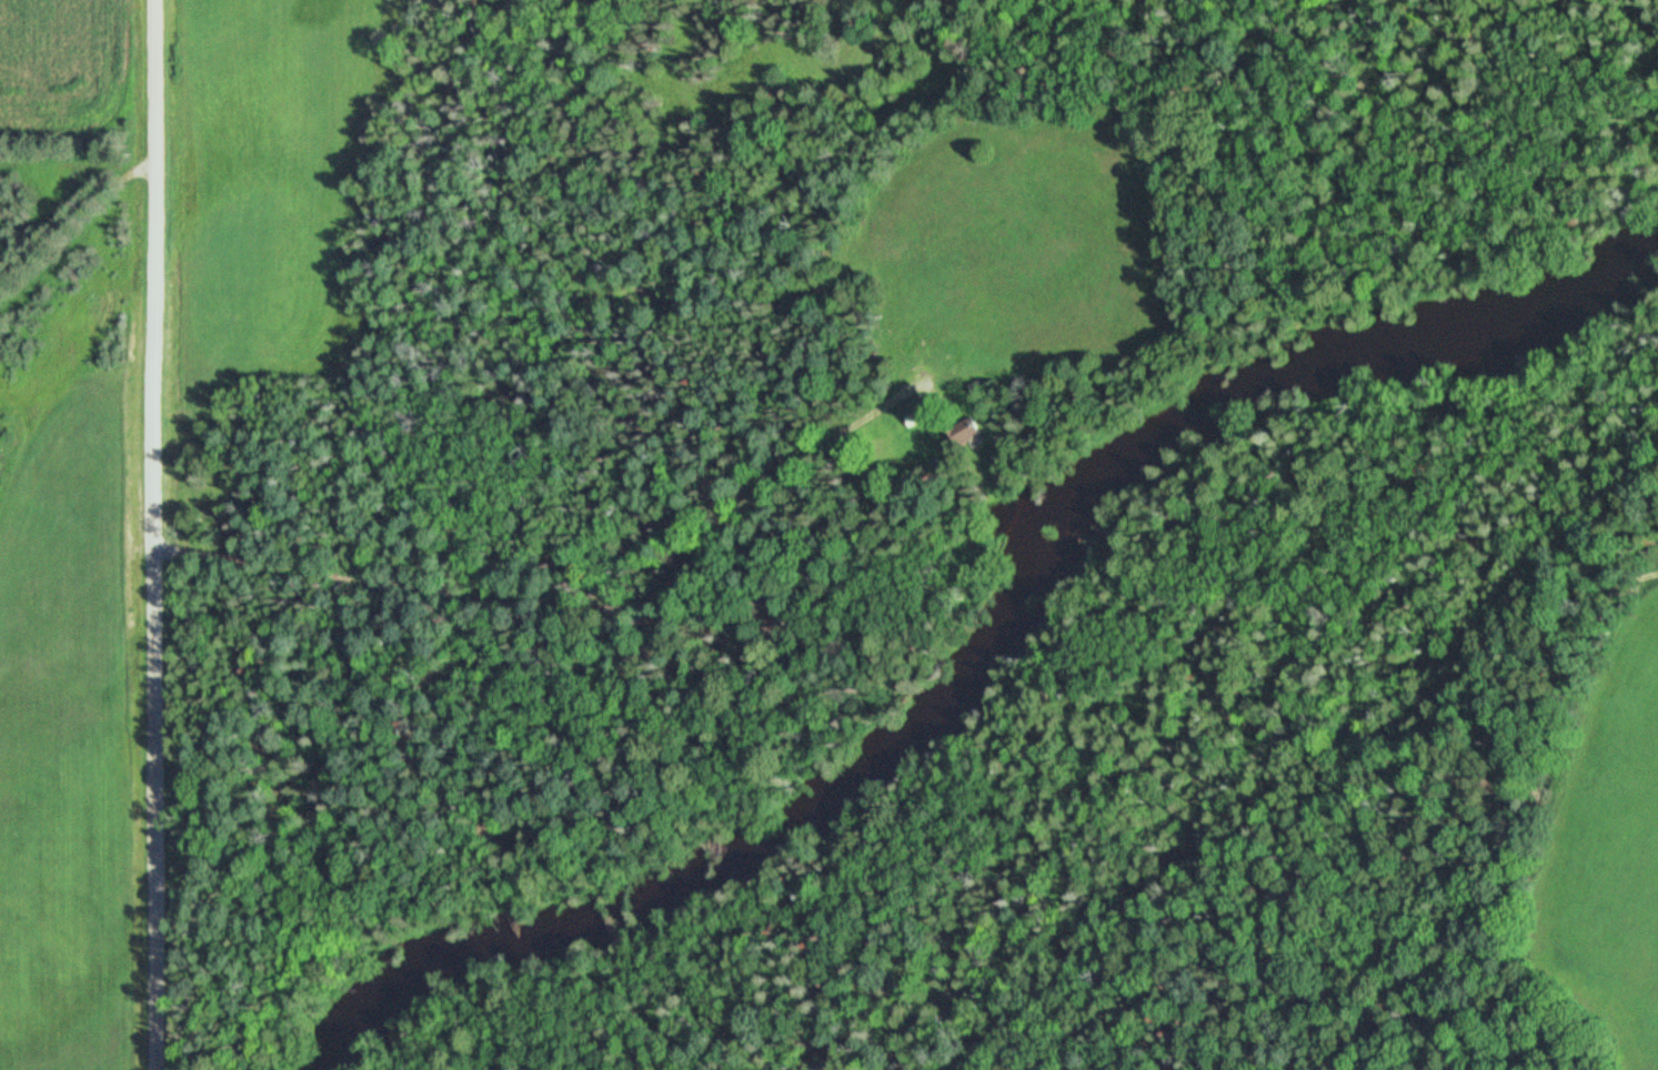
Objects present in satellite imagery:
building: (973, 435)
road: (152, 535)
river: (983, 636)

